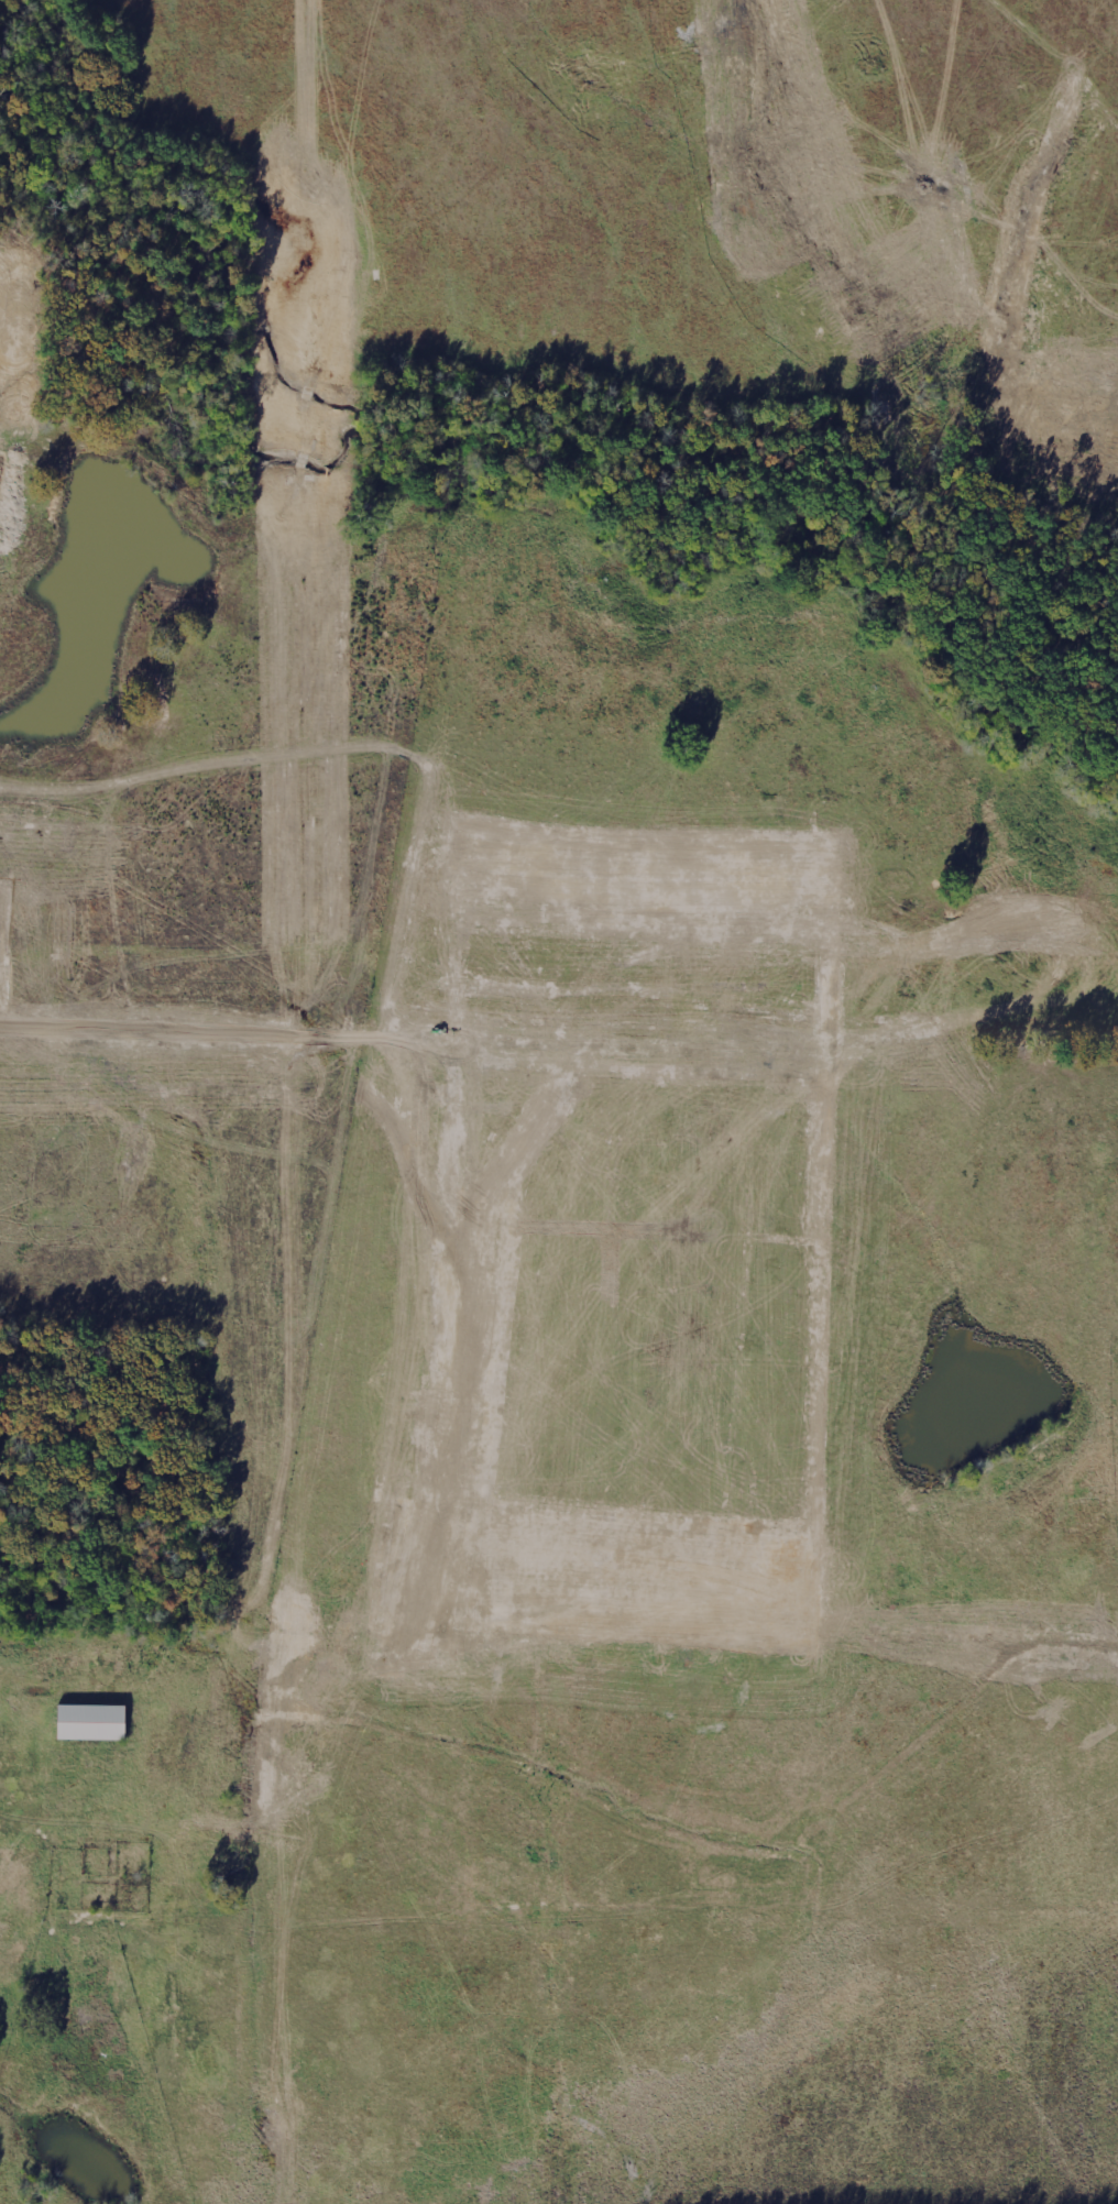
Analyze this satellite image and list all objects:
building: (92, 1723)

